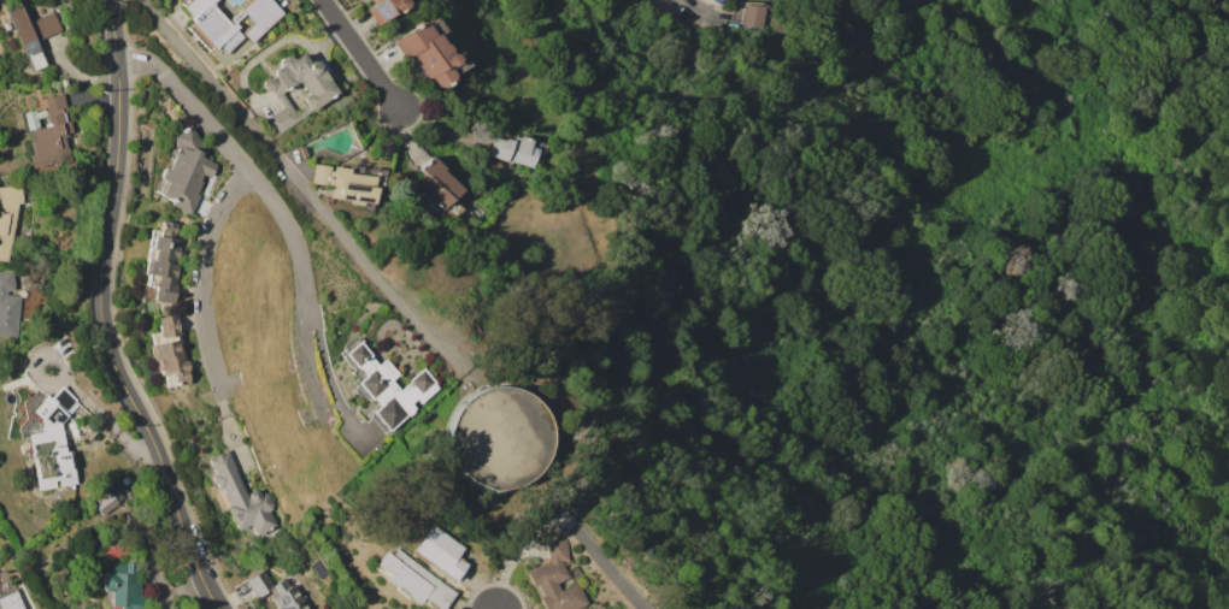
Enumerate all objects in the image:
building: (717, 1)
building: (383, 8)
road: (701, 8)
building: (751, 16)
building: (259, 17)
building: (211, 24)
building: (31, 26)
building: (428, 53)
road: (367, 54)
building: (321, 94)
building: (48, 132)
building: (516, 149)
building: (301, 153)
building: (184, 171)
building: (349, 183)
road: (299, 185)
building: (437, 188)
road: (276, 207)
building: (8, 215)
building: (160, 264)
road: (200, 278)
building: (7, 306)
road: (106, 314)
building: (169, 351)
building: (384, 384)
building: (499, 437)
building: (52, 444)
building: (125, 480)
building: (239, 497)
building: (107, 499)
road: (563, 515)
building: (441, 552)
building: (575, 572)
building: (412, 579)
building: (555, 580)
building: (124, 585)
building: (278, 592)
building: (12, 599)

